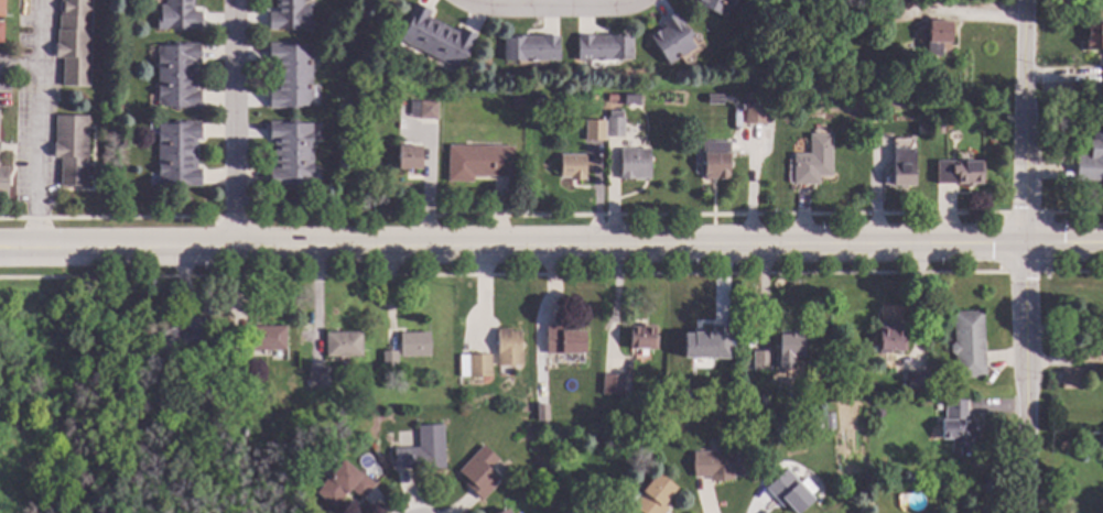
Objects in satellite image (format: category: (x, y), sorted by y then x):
road: (549, 6)
building: (714, 6)
building: (1, 9)
building: (177, 17)
building: (290, 17)
building: (1, 32)
building: (937, 37)
building: (1094, 37)
building: (435, 39)
building: (671, 40)
building: (74, 42)
building: (530, 48)
building: (603, 48)
road: (20, 66)
building: (888, 74)
building: (177, 76)
building: (290, 76)
building: (1102, 77)
building: (613, 98)
building: (630, 101)
building: (515, 103)
building: (423, 110)
building: (755, 113)
road: (39, 122)
road: (233, 122)
building: (615, 125)
building: (594, 130)
building: (902, 143)
building: (72, 149)
building: (290, 154)
building: (177, 155)
building: (408, 157)
building: (1091, 160)
building: (715, 161)
building: (812, 161)
building: (478, 163)
building: (634, 164)
building: (572, 167)
building: (904, 168)
building: (959, 173)
building: (3, 182)
road: (551, 243)
road: (1024, 255)
building: (182, 338)
building: (642, 338)
building: (266, 339)
building: (890, 340)
building: (563, 341)
building: (706, 343)
building: (342, 345)
building: (414, 345)
building: (969, 345)
building: (789, 347)
building: (508, 348)
building: (1091, 356)
building: (389, 361)
building: (760, 361)
building: (474, 367)
building: (234, 369)
building: (317, 379)
building: (1071, 379)
building: (918, 381)
building: (612, 385)
building: (931, 388)
park: (78, 399)
building: (878, 414)
building: (818, 426)
building: (958, 426)
building: (140, 427)
building: (239, 436)
building: (639, 440)
building: (422, 451)
building: (721, 465)
building: (479, 473)
building: (343, 484)
building: (788, 492)
building: (653, 495)
building: (505, 511)

